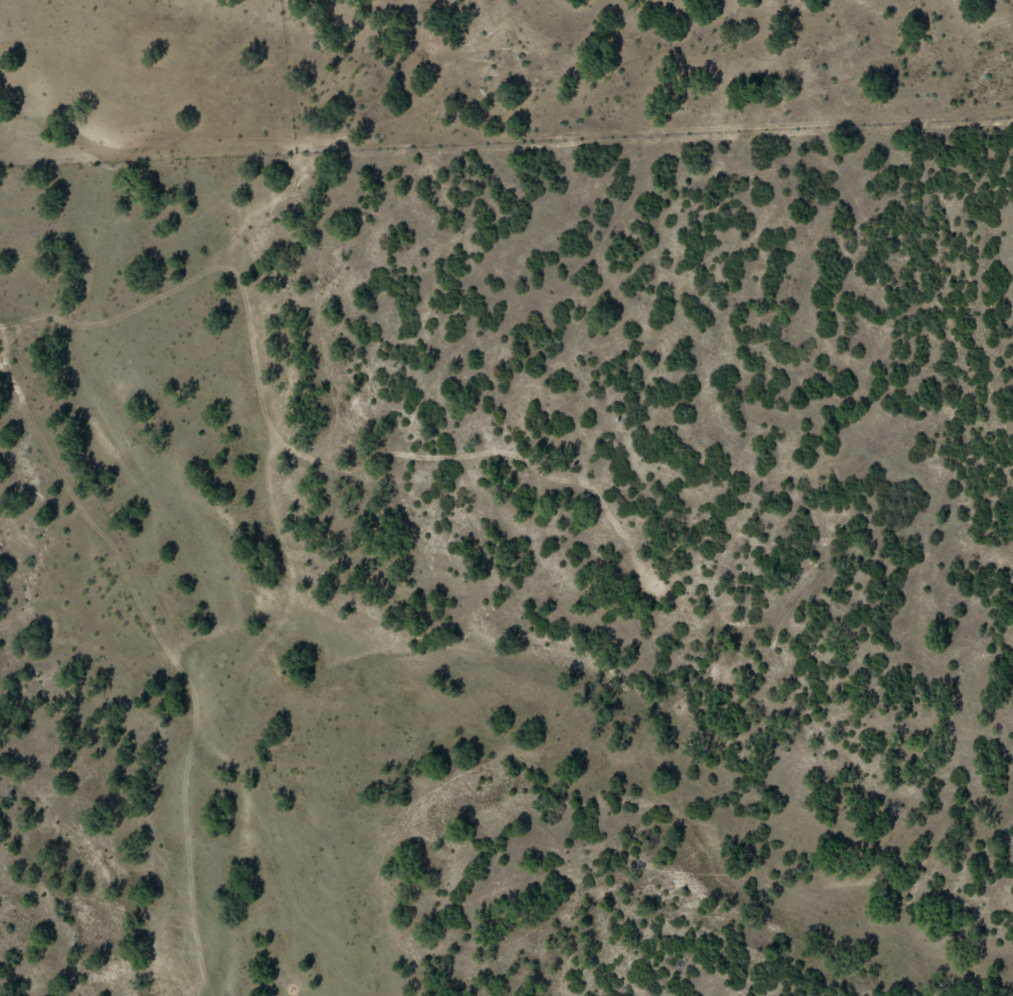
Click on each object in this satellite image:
road: (202, 678)

